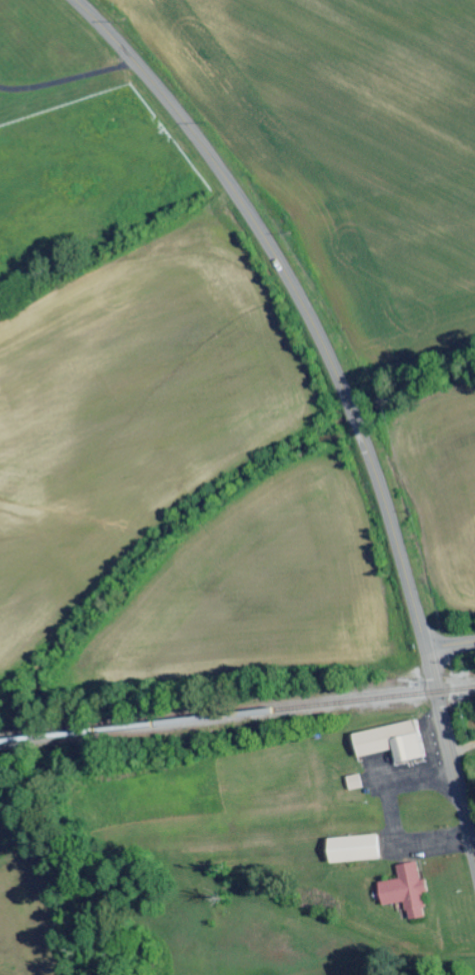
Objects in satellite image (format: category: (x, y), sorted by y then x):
road: (297, 299)
road: (450, 647)
railway: (237, 715)
building: (389, 743)
road: (450, 761)
building: (354, 783)
building: (351, 850)
building: (405, 891)

